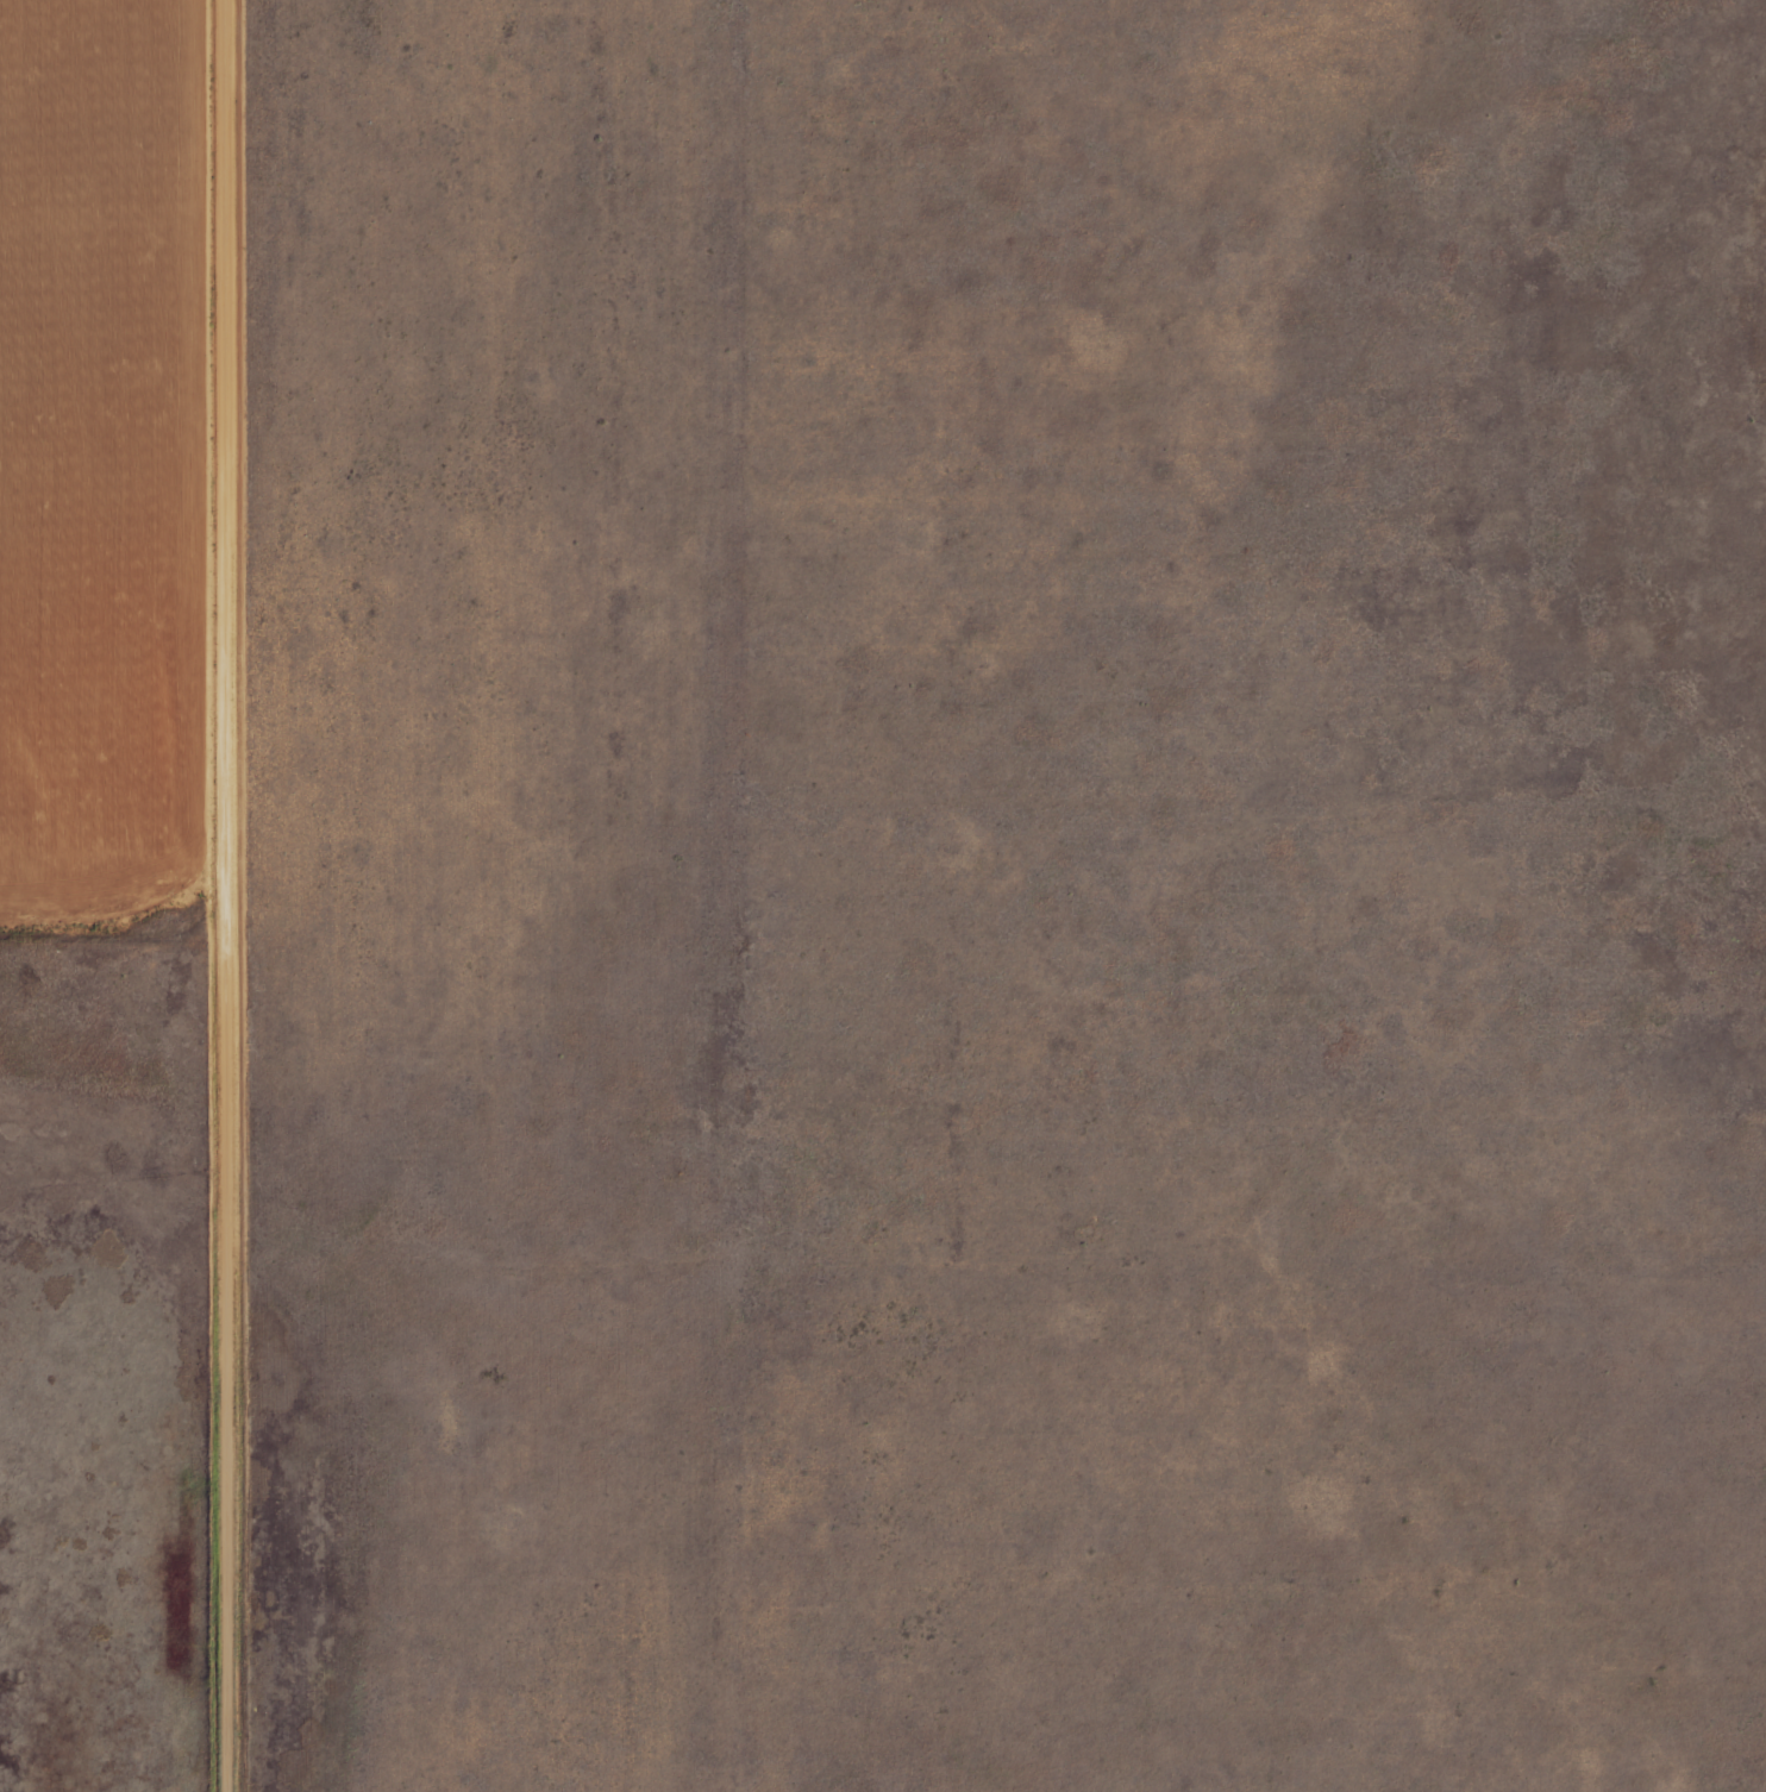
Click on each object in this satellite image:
road: (200, 896)

